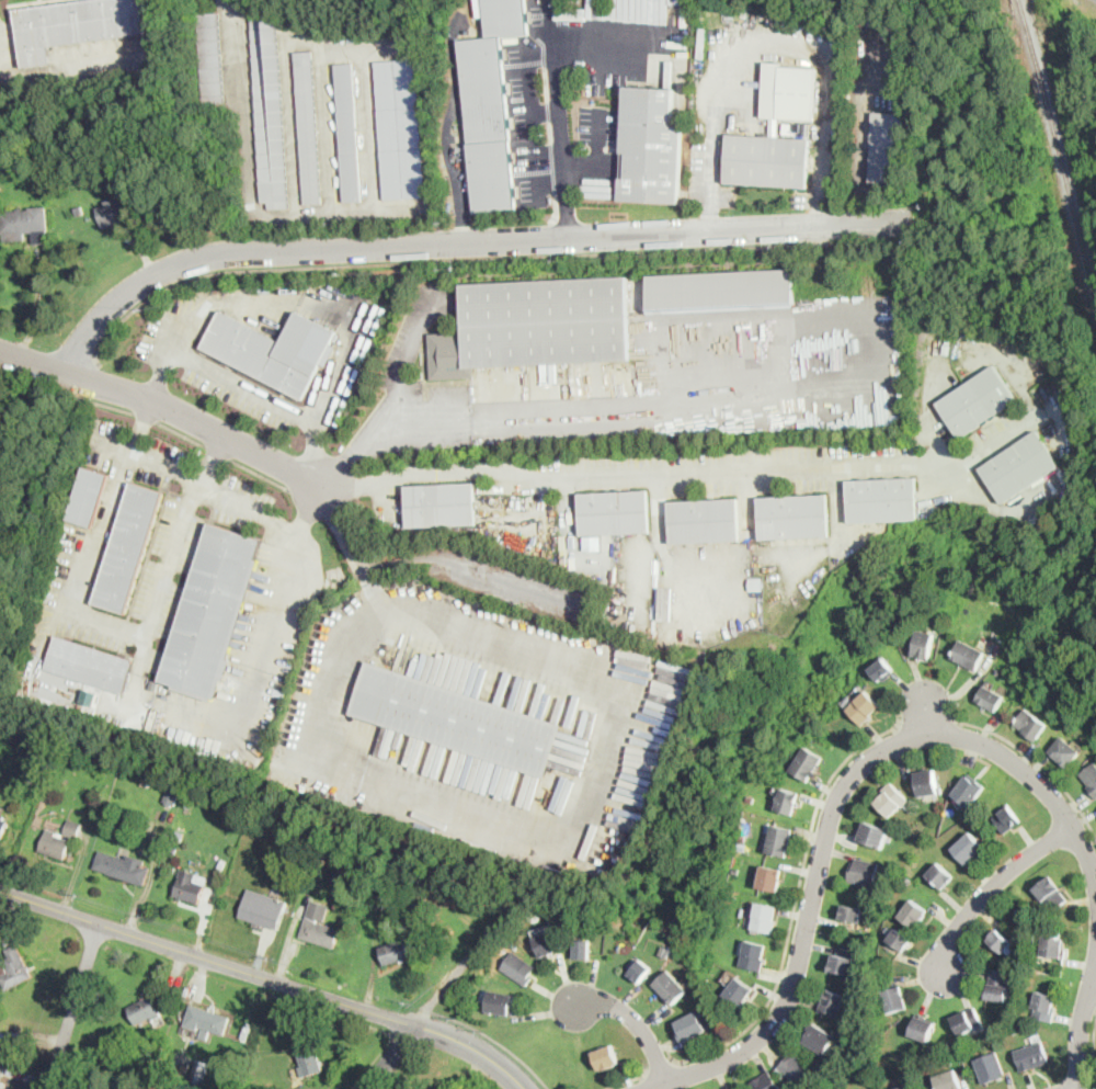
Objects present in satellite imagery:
railway: (1024, 11)
building: (79, 25)
road: (232, 37)
road: (783, 39)
road: (616, 44)
building: (210, 58)
road: (541, 58)
road: (530, 89)
building: (788, 92)
building: (491, 104)
building: (270, 111)
road: (545, 112)
road: (559, 126)
building: (401, 127)
building: (309, 128)
road: (448, 129)
building: (349, 132)
road: (600, 139)
building: (651, 147)
building: (889, 147)
road: (860, 155)
railway: (1061, 156)
building: (768, 161)
road: (572, 167)
road: (540, 171)
building: (115, 179)
building: (48, 182)
road: (711, 184)
road: (820, 188)
building: (80, 211)
building: (114, 214)
building: (26, 225)
road: (467, 240)
road: (412, 262)
building: (721, 290)
road: (37, 303)
building: (536, 326)
building: (274, 350)
road: (404, 359)
road: (162, 374)
road: (224, 376)
building: (977, 401)
road: (112, 407)
road: (173, 409)
road: (589, 412)
road: (145, 417)
road: (141, 427)
road: (181, 433)
building: (489, 439)
road: (217, 453)
road: (312, 454)
road: (213, 461)
building: (1019, 466)
road: (633, 470)
road: (261, 475)
road: (204, 486)
building: (88, 497)
building: (883, 500)
building: (442, 504)
building: (615, 512)
building: (795, 517)
building: (705, 521)
building: (507, 534)
building: (593, 542)
building: (128, 548)
road: (354, 554)
building: (213, 613)
road: (105, 629)
building: (924, 644)
building: (969, 655)
road: (270, 660)
building: (90, 665)
building: (882, 670)
road: (967, 685)
building: (991, 699)
building: (865, 707)
road: (926, 708)
building: (457, 719)
road: (926, 719)
building: (1031, 725)
building: (36, 752)
building: (1066, 752)
road: (1034, 760)
building: (807, 763)
building: (1091, 779)
building: (145, 782)
building: (927, 783)
building: (969, 790)
building: (173, 795)
building: (750, 798)
building: (892, 799)
building: (787, 802)
road: (831, 810)
building: (1007, 819)
building: (3, 827)
building: (73, 829)
road: (566, 830)
building: (875, 835)
building: (742, 838)
building: (779, 840)
building: (56, 844)
building: (172, 848)
building: (970, 849)
building: (355, 855)
building: (124, 866)
building: (735, 870)
building: (864, 872)
building: (941, 875)
building: (770, 878)
road: (995, 883)
building: (191, 887)
building: (1052, 894)
building: (264, 909)
road: (796, 909)
building: (1021, 912)
building: (852, 914)
building: (914, 914)
building: (765, 918)
building: (320, 926)
building: (900, 940)
building: (1003, 942)
building: (548, 943)
building: (294, 948)
building: (1054, 948)
building: (582, 950)
building: (665, 950)
building: (396, 952)
building: (684, 955)
building: (754, 955)
road: (207, 957)
building: (843, 962)
building: (518, 967)
building: (14, 968)
building: (640, 971)
road: (1095, 972)
building: (997, 985)
building: (671, 987)
building: (739, 991)
building: (895, 1000)
building: (833, 1001)
building: (501, 1002)
building: (1044, 1005)
road: (73, 1006)
building: (145, 1011)
road: (632, 1019)
building: (967, 1020)
building: (207, 1021)
road: (1081, 1024)
building: (690, 1026)
building: (923, 1029)
building: (1015, 1030)
road: (491, 1037)
building: (821, 1037)
building: (31, 1042)
building: (9, 1045)
road: (476, 1048)
road: (389, 1056)
building: (1032, 1056)
road: (1094, 1056)
building: (607, 1058)
building: (311, 1062)
building: (990, 1067)
building: (795, 1068)
road: (660, 1069)
building: (820, 1070)
building: (201, 1071)
building: (1, 1073)
building: (949, 1080)
road: (626, 1081)
building: (766, 1082)
building: (269, 1085)
building: (909, 1087)
road: (1074, 1087)

